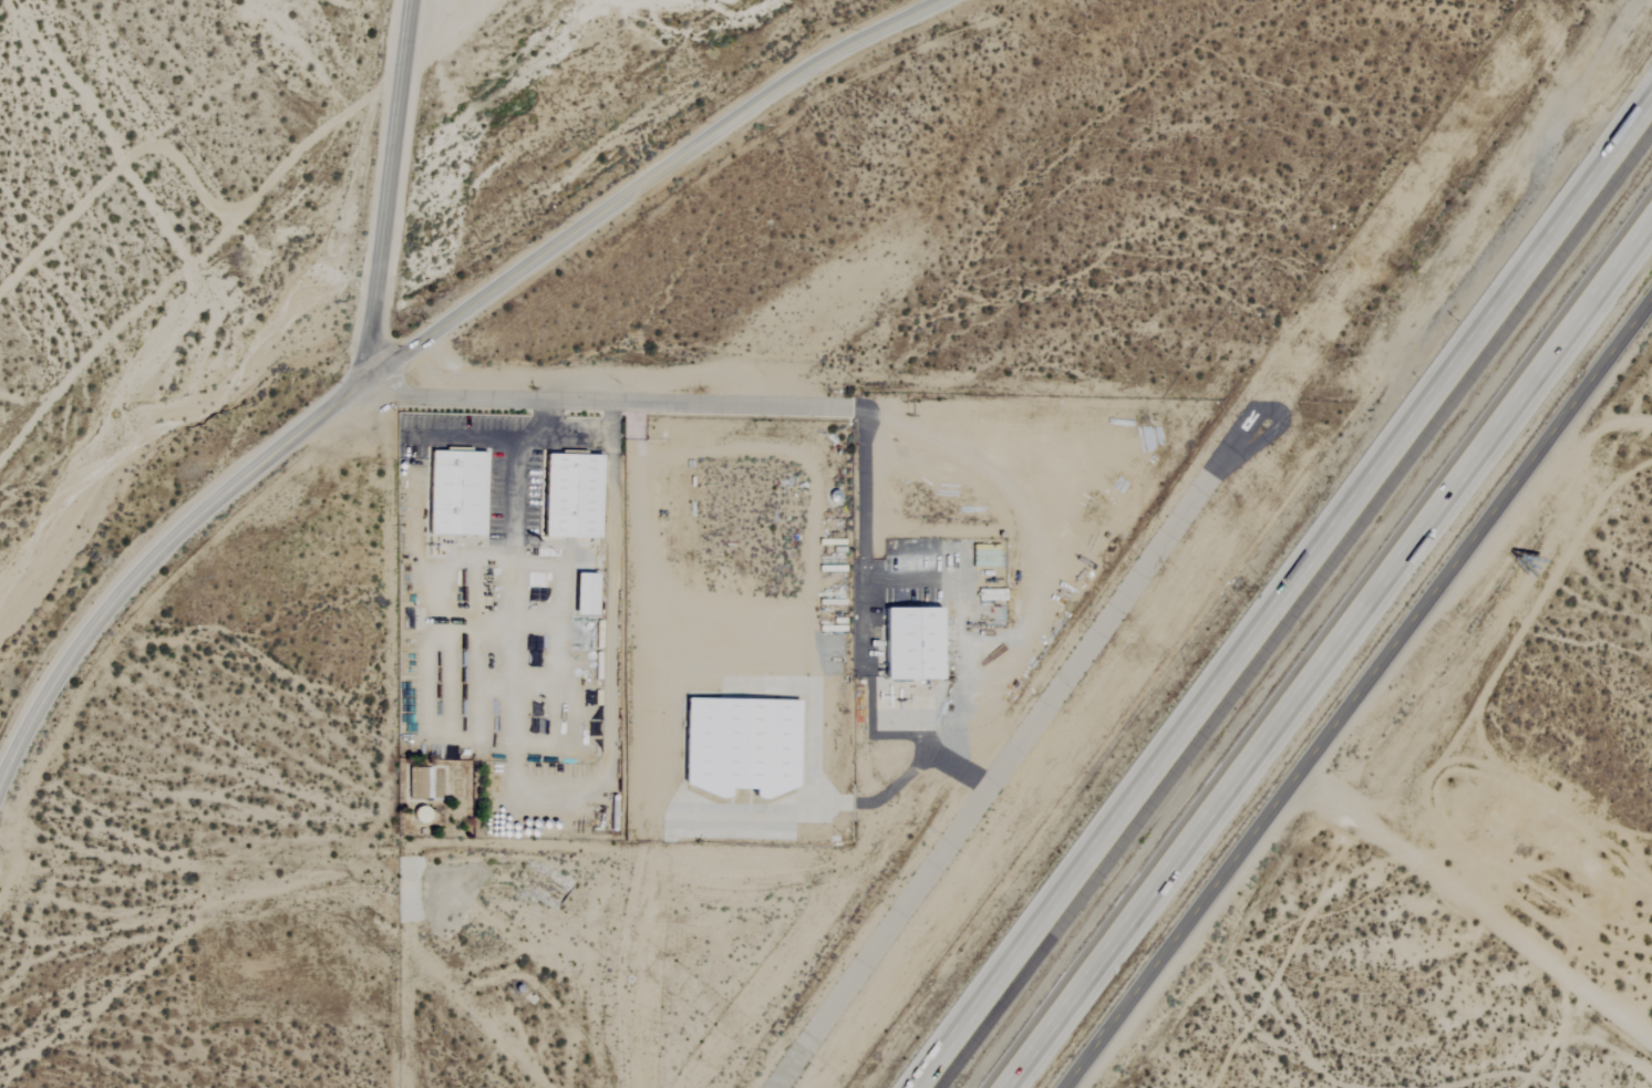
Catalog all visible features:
road: (389, 190)
road: (425, 339)
road: (608, 400)
road: (1605, 423)
airport taxiway: (1257, 433)
road: (492, 437)
road: (593, 438)
building: (454, 493)
road: (514, 493)
building: (569, 496)
road: (861, 527)
road: (898, 580)
building: (582, 594)
road: (1287, 601)
road: (792, 622)
railway: (1308, 626)
building: (910, 643)
airport: (951, 647)
road: (1332, 661)
road: (1356, 693)
airport taxiway: (920, 737)
building: (739, 746)
airport runway: (1004, 752)
airport taxiway: (954, 766)
airport taxiway: (874, 795)
road: (1475, 906)

